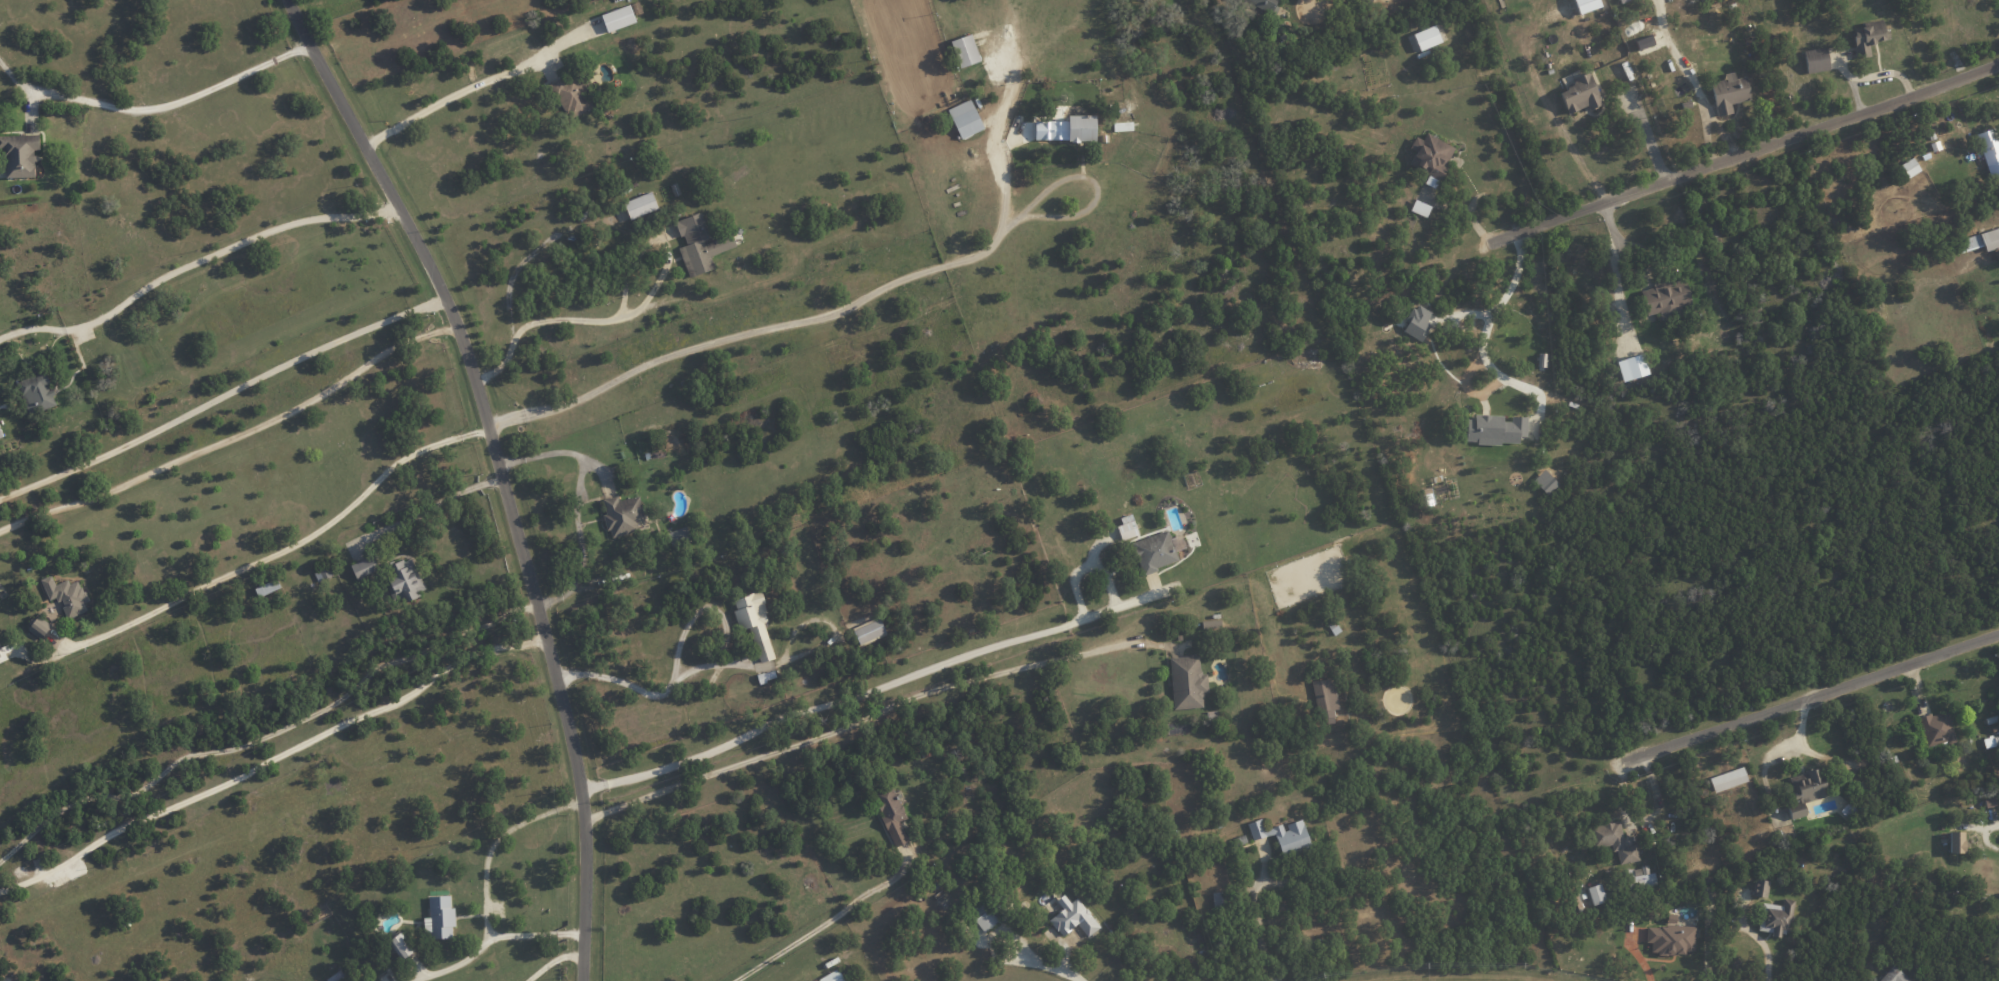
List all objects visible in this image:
building: (1369, 0)
building: (1621, 1)
building: (1264, 4)
building: (1585, 5)
building: (617, 18)
building: (1426, 37)
building: (1867, 37)
building: (1643, 42)
building: (964, 50)
building: (1815, 60)
road: (481, 80)
building: (1728, 93)
building: (1580, 94)
building: (570, 95)
road: (177, 102)
building: (964, 118)
building: (1122, 126)
building: (1074, 128)
road: (1564, 129)
road: (1646, 139)
building: (1989, 150)
building: (19, 154)
road: (1749, 154)
building: (1430, 157)
building: (1909, 167)
road: (1086, 177)
building: (640, 205)
building: (1419, 208)
road: (1465, 210)
building: (1978, 241)
building: (699, 245)
road: (529, 255)
road: (167, 273)
building: (1665, 299)
road: (842, 310)
road: (632, 312)
building: (1417, 322)
road: (1485, 325)
building: (36, 393)
road: (221, 395)
building: (1494, 429)
road: (232, 435)
building: (0, 436)
road: (500, 471)
building: (1545, 482)
road: (577, 500)
road: (429, 508)
building: (621, 515)
building: (1126, 527)
building: (678, 536)
building: (1154, 551)
road: (261, 559)
building: (363, 567)
building: (403, 580)
building: (266, 588)
building: (66, 595)
building: (753, 622)
building: (1212, 624)
building: (39, 627)
building: (868, 631)
road: (816, 646)
road: (677, 651)
building: (0, 653)
building: (1186, 682)
road: (862, 693)
building: (1323, 695)
road: (1809, 697)
building: (1935, 729)
road: (268, 736)
building: (1990, 741)
road: (271, 759)
building: (1727, 779)
building: (1805, 788)
building: (890, 813)
building: (1282, 835)
building: (1613, 841)
building: (1955, 842)
building: (1639, 877)
road: (484, 883)
building: (1759, 888)
building: (1596, 894)
building: (1218, 899)
building: (439, 917)
building: (983, 917)
building: (1072, 917)
building: (1775, 917)
road: (826, 920)
road: (1258, 929)
road: (535, 933)
building: (1671, 938)
building: (1997, 945)
building: (400, 946)
road: (1639, 958)
road: (552, 959)
road: (1767, 959)
road: (1050, 967)
building: (1894, 975)
building: (832, 976)
building: (815, 980)

